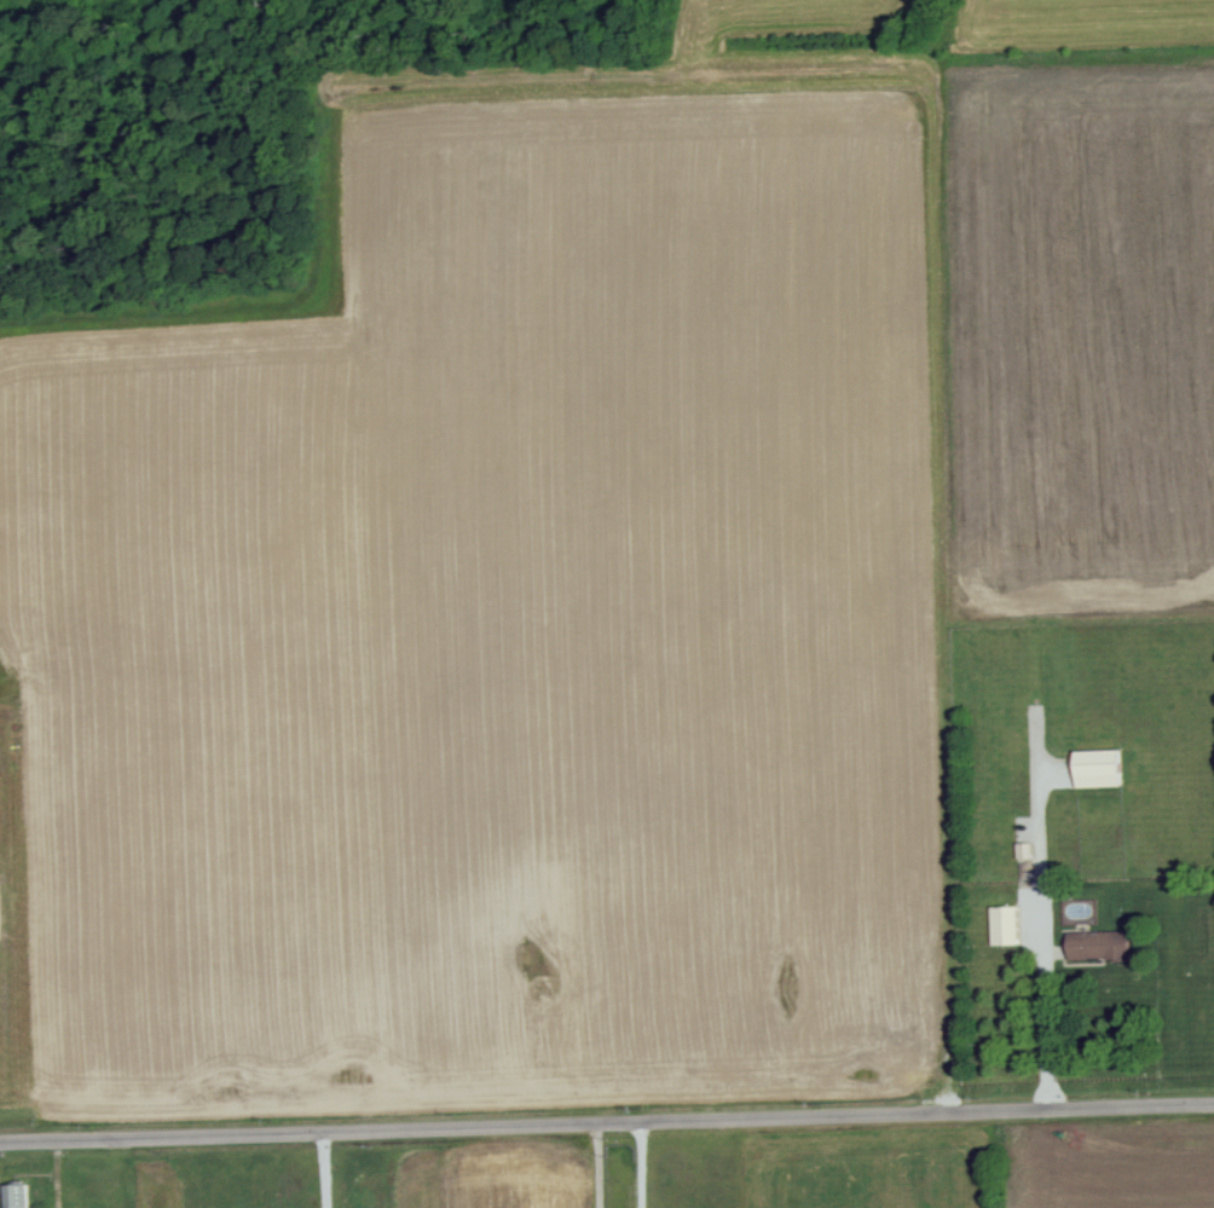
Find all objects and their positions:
building: (1099, 769)
building: (1006, 926)
building: (1099, 946)
road: (1047, 1022)
road: (607, 1125)
road: (643, 1166)
road: (599, 1167)
road: (325, 1171)
building: (16, 1196)

